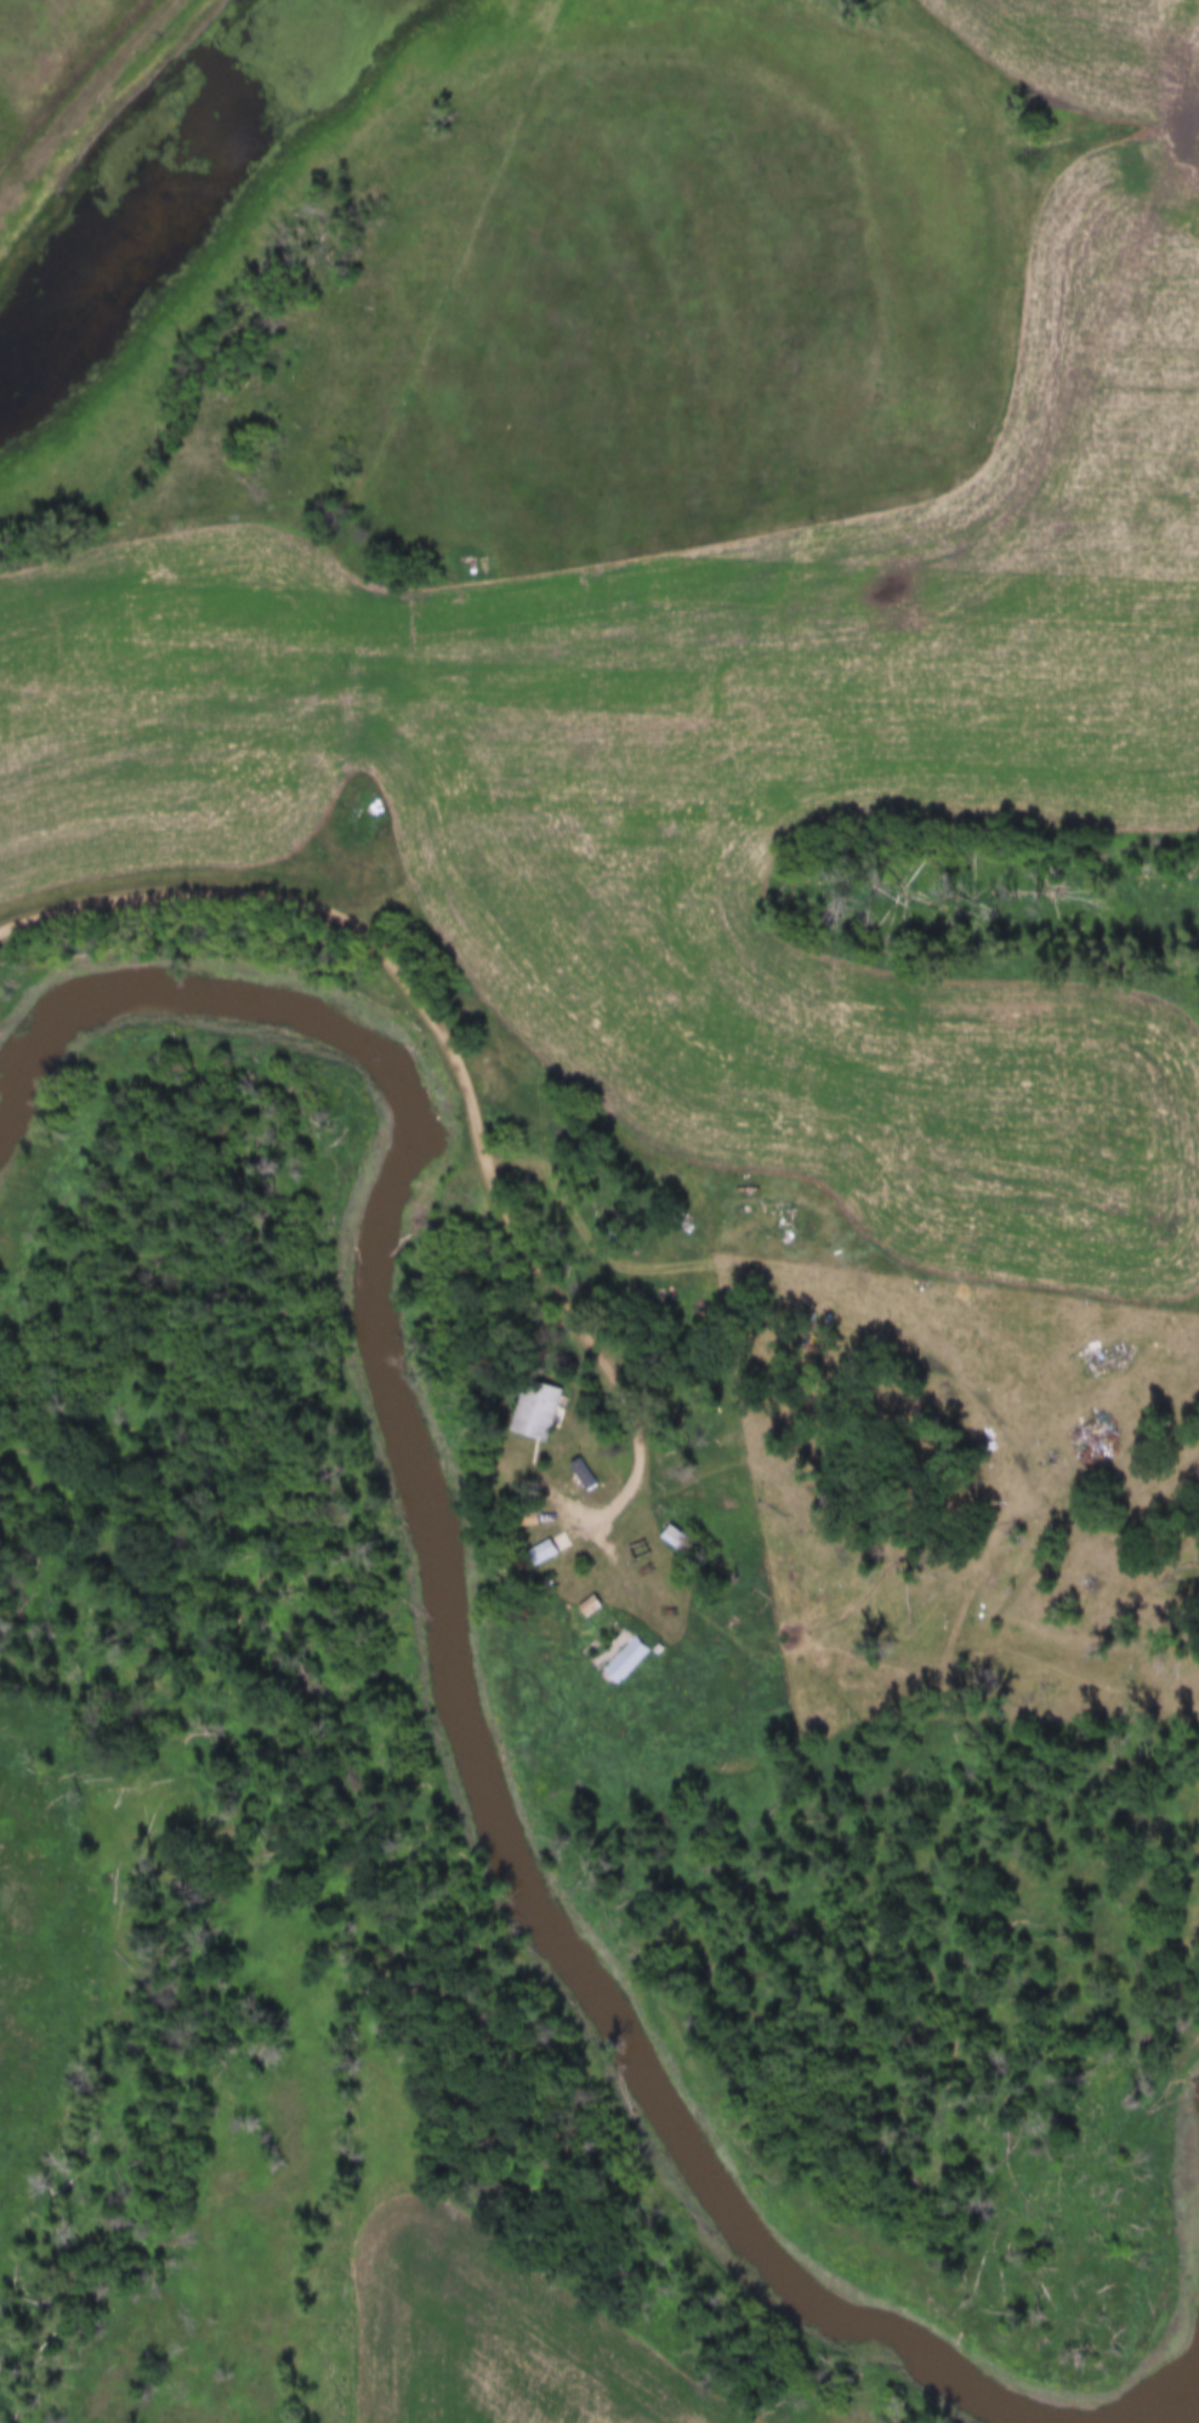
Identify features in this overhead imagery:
road: (466, 1095)
building: (534, 1411)
building: (545, 1553)
building: (590, 1607)
building: (621, 1657)
river: (455, 1712)
river: (1194, 2154)

